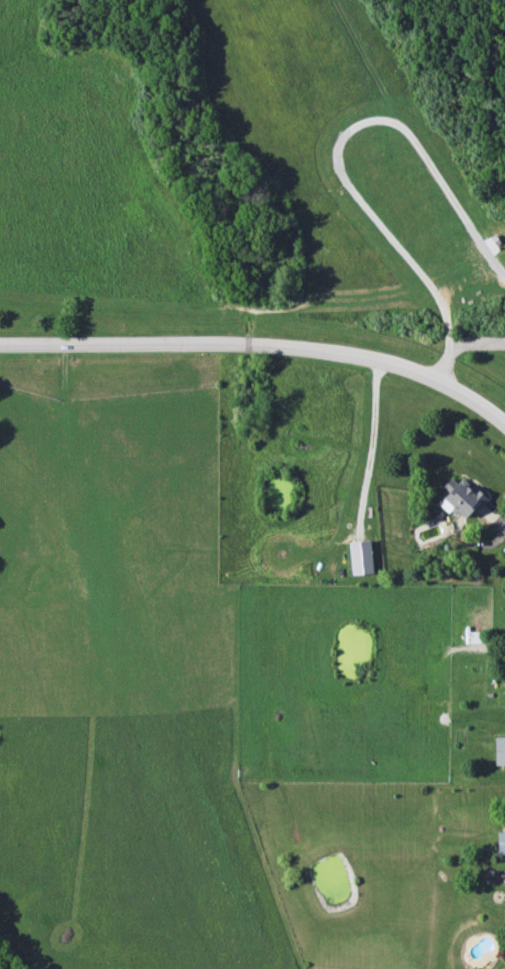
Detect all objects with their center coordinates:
road: (458, 57)
road: (339, 141)
park: (252, 171)
road: (253, 309)
road: (261, 343)
road: (460, 345)
road: (371, 441)
building: (460, 497)
building: (359, 557)
building: (499, 750)
building: (500, 842)

